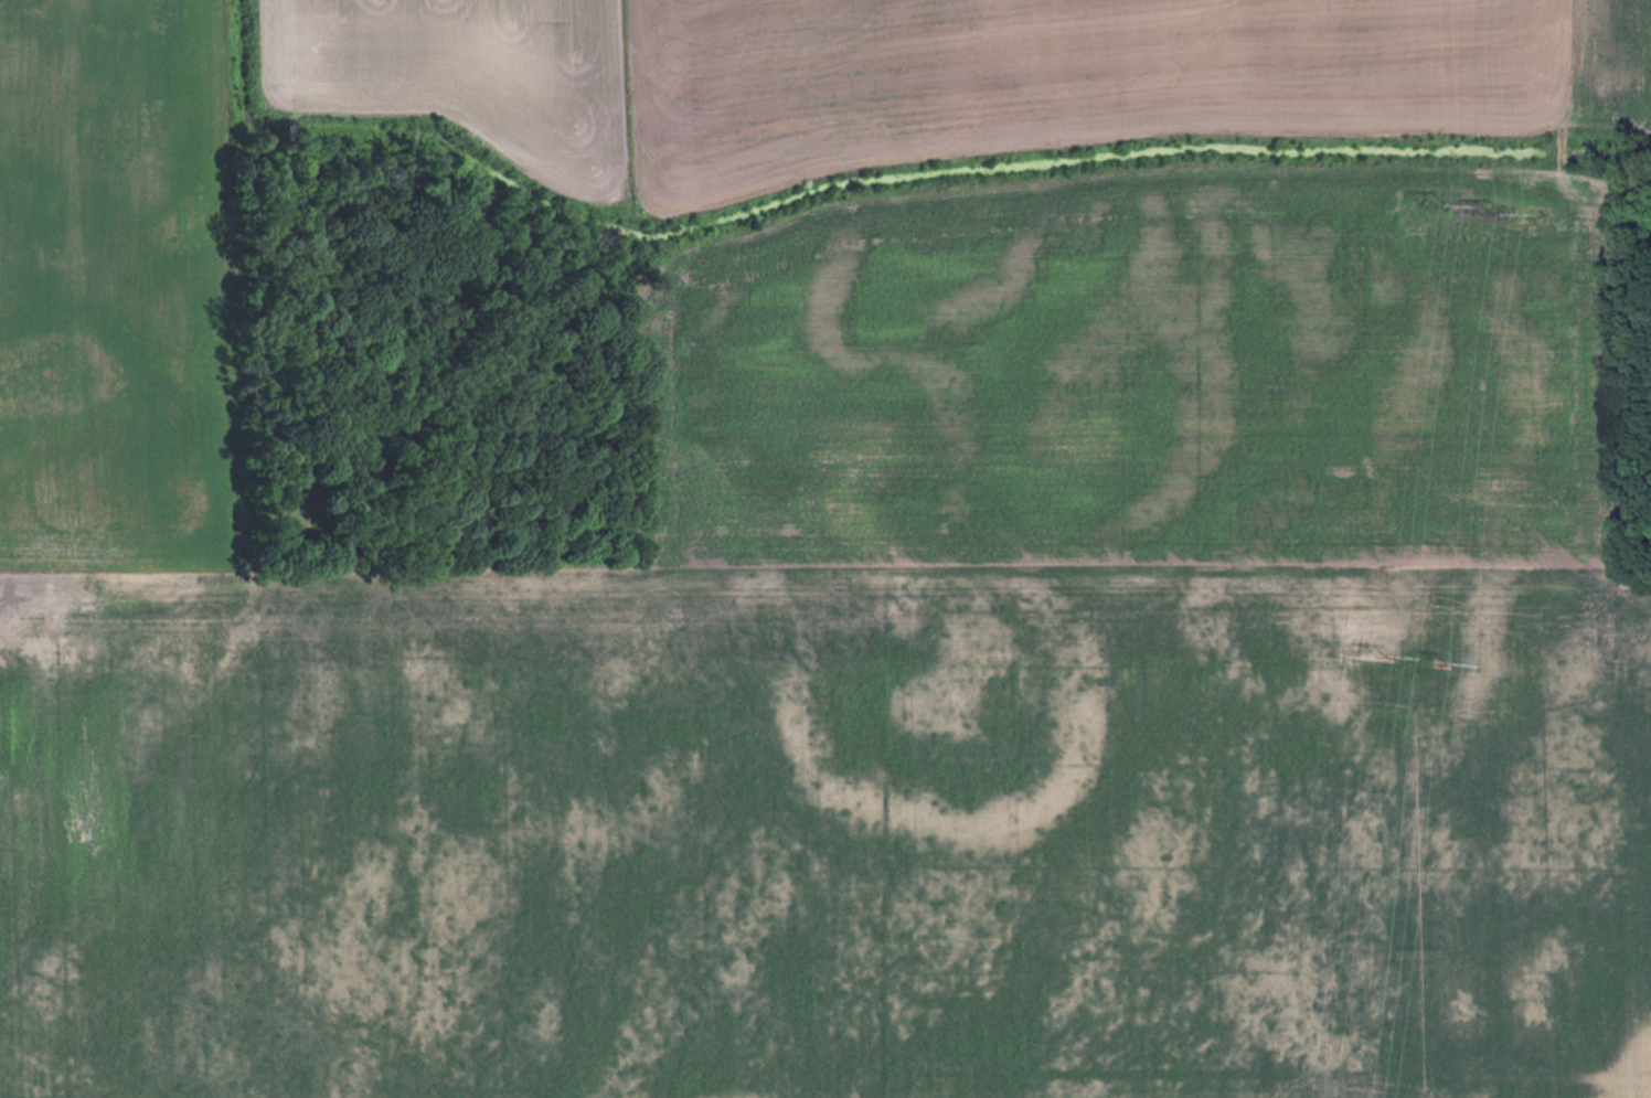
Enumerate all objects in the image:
power tower: (1429, 203)
power tower: (1490, 207)
power tower: (1376, 652)
power tower: (1438, 659)

